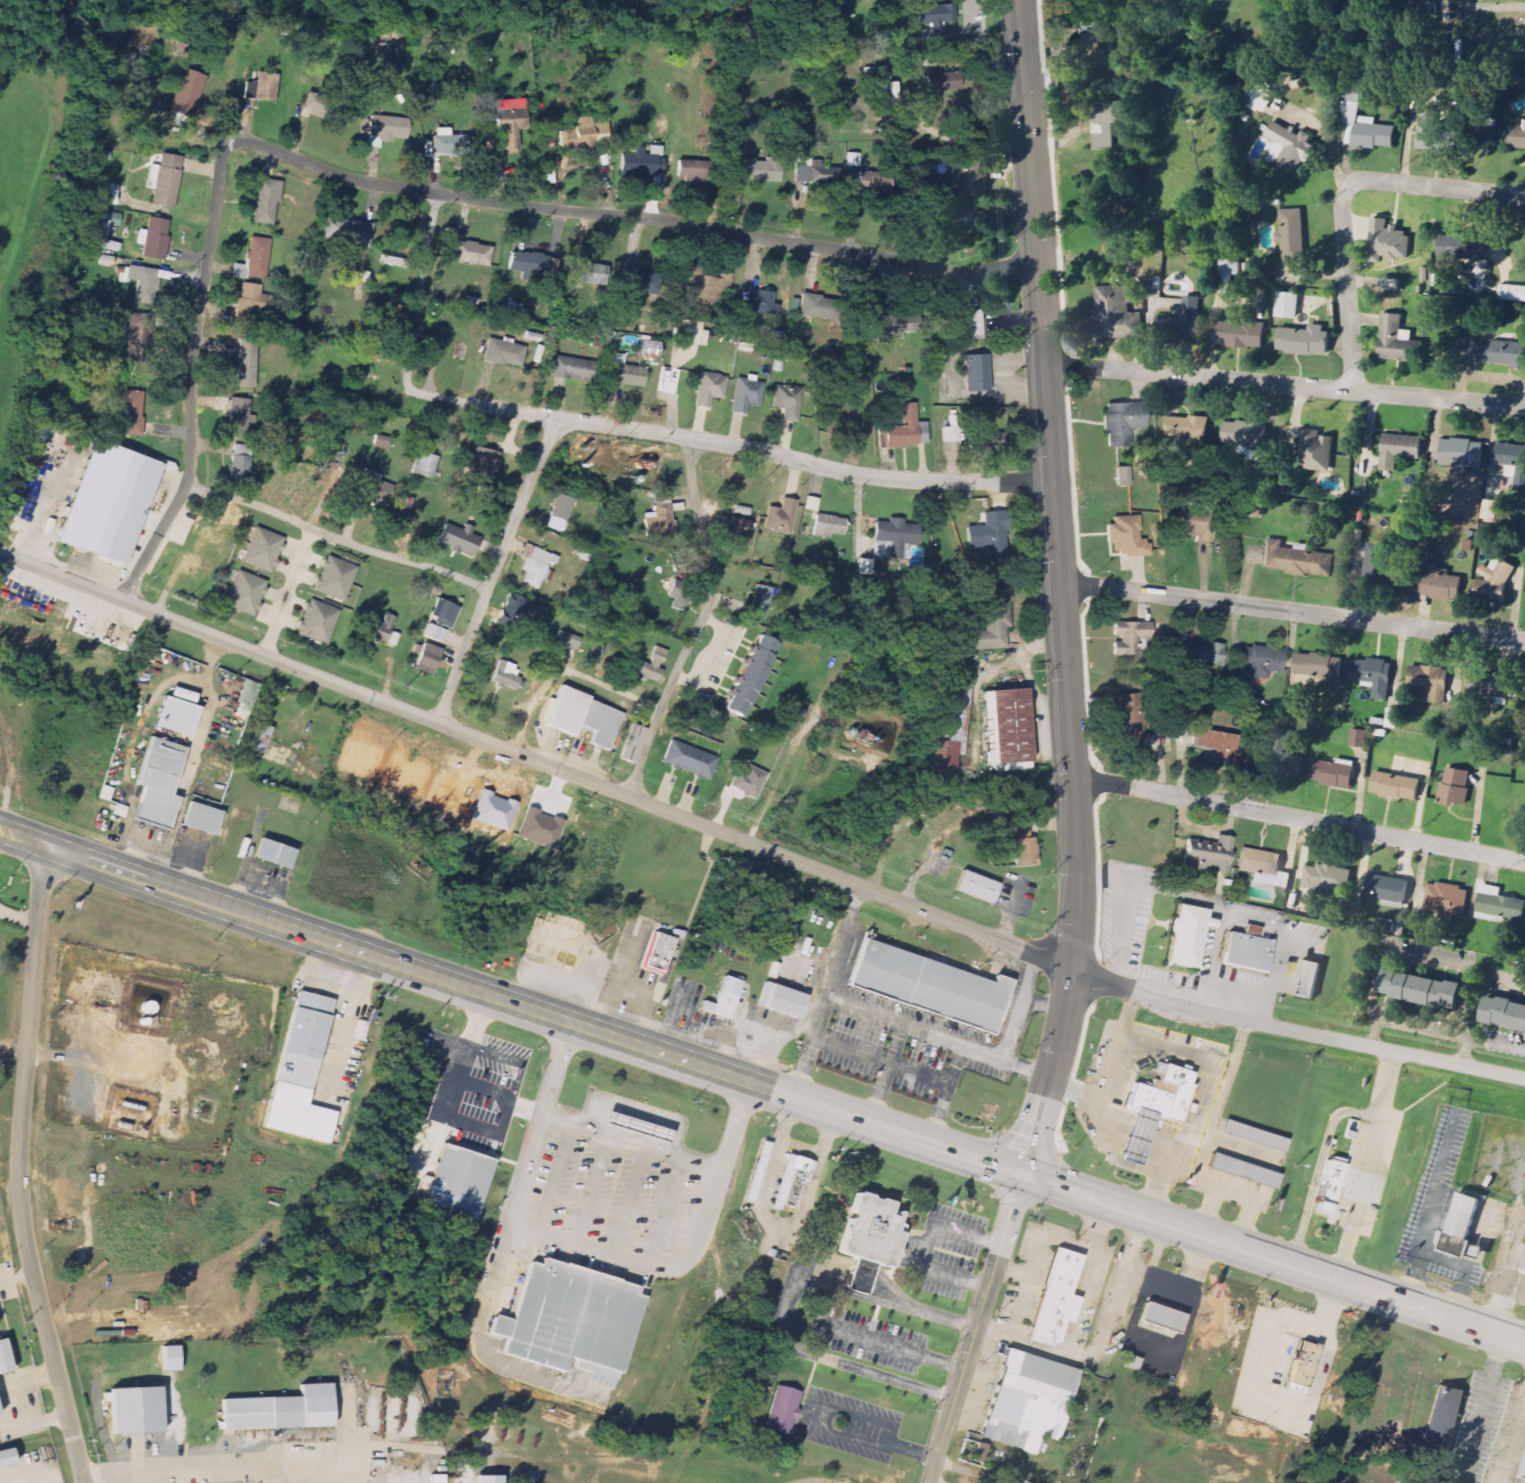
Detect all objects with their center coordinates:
road: (1498, 9)
building: (931, 14)
building: (838, 17)
building: (1090, 36)
building: (879, 79)
building: (942, 82)
building: (262, 86)
building: (186, 93)
building: (912, 93)
building: (1258, 97)
building: (321, 107)
building: (509, 121)
building: (1104, 123)
building: (1362, 124)
building: (387, 128)
building: (577, 134)
building: (1433, 134)
building: (1516, 135)
building: (448, 143)
building: (1288, 148)
building: (102, 156)
building: (852, 160)
building: (641, 162)
building: (757, 170)
building: (814, 172)
building: (165, 180)
building: (873, 180)
building: (977, 184)
building: (106, 190)
road: (1434, 191)
building: (265, 201)
road: (631, 215)
building: (969, 218)
building: (101, 231)
building: (347, 232)
building: (1291, 235)
building: (153, 238)
building: (1388, 242)
building: (1459, 246)
building: (471, 253)
building: (254, 259)
building: (527, 263)
building: (586, 271)
building: (1227, 273)
building: (639, 284)
building: (143, 285)
building: (1389, 285)
building: (705, 287)
building: (1512, 293)
road: (1348, 294)
building: (250, 300)
building: (761, 303)
building: (1287, 305)
building: (812, 306)
building: (514, 310)
building: (1116, 313)
building: (1183, 321)
building: (970, 324)
building: (895, 326)
building: (860, 327)
building: (694, 333)
building: (1239, 335)
building: (136, 337)
building: (1303, 340)
building: (1396, 341)
building: (649, 349)
building: (504, 353)
building: (1502, 354)
building: (247, 361)
building: (570, 368)
building: (623, 373)
building: (976, 373)
road: (191, 376)
road: (1284, 384)
building: (709, 389)
building: (746, 394)
building: (786, 402)
building: (131, 413)
building: (238, 418)
building: (1122, 422)
road: (633, 428)
building: (848, 429)
building: (1185, 429)
building: (905, 430)
building: (38, 434)
building: (1246, 437)
building: (381, 442)
building: (988, 443)
building: (1398, 450)
building: (1316, 452)
building: (1460, 452)
building: (240, 461)
building: (1512, 463)
building: (484, 464)
building: (423, 465)
building: (1122, 476)
building: (1263, 477)
building: (372, 487)
building: (106, 503)
building: (1490, 510)
building: (740, 511)
building: (559, 513)
building: (1253, 513)
building: (780, 517)
building: (660, 518)
building: (828, 525)
building: (735, 531)
building: (989, 534)
road: (336, 535)
building: (1126, 537)
building: (893, 538)
building: (458, 539)
building: (262, 550)
building: (1295, 560)
building: (1375, 561)
building: (536, 565)
building: (864, 567)
road: (495, 568)
building: (334, 578)
building: (1493, 581)
building: (1437, 583)
road: (1059, 590)
building: (246, 594)
building: (679, 595)
power tower: (170, 600)
building: (760, 601)
building: (520, 608)
road: (1292, 611)
building: (443, 614)
road: (701, 620)
building: (992, 621)
building: (318, 622)
building: (382, 629)
building: (433, 633)
building: (1128, 635)
building: (567, 642)
building: (1200, 654)
building: (426, 659)
building: (1260, 664)
building: (1316, 665)
building: (648, 666)
building: (506, 676)
building: (749, 676)
building: (1372, 676)
building: (1429, 682)
building: (1488, 685)
power tower: (404, 689)
building: (248, 695)
building: (175, 713)
building: (584, 718)
road: (431, 719)
building: (1392, 719)
building: (1129, 721)
building: (1009, 726)
building: (948, 729)
building: (1357, 738)
building: (259, 739)
building: (631, 744)
building: (1215, 745)
power tower: (567, 752)
building: (1284, 758)
building: (689, 760)
building: (1334, 773)
building: (748, 781)
building: (157, 784)
building: (1394, 786)
building: (1454, 786)
building: (201, 819)
road: (1300, 819)
power tower: (740, 820)
building: (540, 829)
road: (14, 834)
building: (1022, 843)
building: (273, 854)
road: (139, 855)
building: (1207, 855)
building: (1263, 868)
building: (1326, 878)
power tower: (904, 883)
building: (975, 887)
building: (1386, 890)
building: (1446, 900)
building: (1498, 905)
road: (1233, 908)
road: (18, 917)
building: (1399, 927)
road: (967, 928)
road: (1122, 933)
building: (1188, 934)
power tower: (1041, 935)
building: (1249, 950)
building: (549, 952)
building: (657, 953)
road: (1213, 959)
building: (1311, 975)
building: (928, 985)
power tower: (1174, 986)
building: (1418, 989)
road: (827, 993)
building: (780, 1000)
building: (719, 1004)
road: (525, 1008)
building: (1502, 1014)
road: (348, 1019)
power tower: (1356, 1025)
road: (1296, 1033)
road: (938, 1037)
building: (304, 1039)
road: (13, 1050)
road: (77, 1062)
building: (1175, 1091)
road: (1074, 1092)
building: (1147, 1100)
road: (638, 1113)
road: (1192, 1125)
building: (634, 1126)
gas station: (634, 1126)
building: (1253, 1135)
building: (1135, 1136)
gas station: (1135, 1136)
road: (1209, 1136)
road: (631, 1142)
road: (1243, 1150)
road: (1369, 1166)
road: (20, 1167)
road: (1318, 1170)
building: (1240, 1171)
building: (756, 1172)
building: (789, 1175)
traffic signals: (1022, 1175)
road: (555, 1179)
building: (459, 1180)
road: (1158, 1181)
building: (1329, 1186)
building: (793, 1187)
road: (592, 1190)
road: (630, 1202)
road: (1249, 1204)
road: (667, 1213)
building: (1459, 1223)
building: (871, 1230)
road: (1424, 1233)
road: (927, 1245)
road: (587, 1248)
road: (1273, 1261)
road: (1500, 1263)
building: (1523, 1269)
road: (16, 1273)
road: (1412, 1281)
road: (1516, 1287)
road: (1118, 1289)
building: (1056, 1299)
building: (568, 1318)
building: (1160, 1318)
road: (1012, 1324)
road: (975, 1329)
road: (993, 1329)
road: (892, 1346)
road: (480, 1351)
building: (3, 1357)
building: (169, 1359)
building: (1301, 1365)
building: (1027, 1401)
building: (137, 1406)
road: (1482, 1407)
building: (281, 1409)
building: (781, 1409)
building: (1444, 1414)
building: (0, 1417)
road: (871, 1440)
road: (1511, 1444)
road: (454, 1450)
building: (5, 1455)
road: (235, 1467)
road: (968, 1471)
building: (1523, 1472)
building: (437, 1479)
building: (481, 1479)

